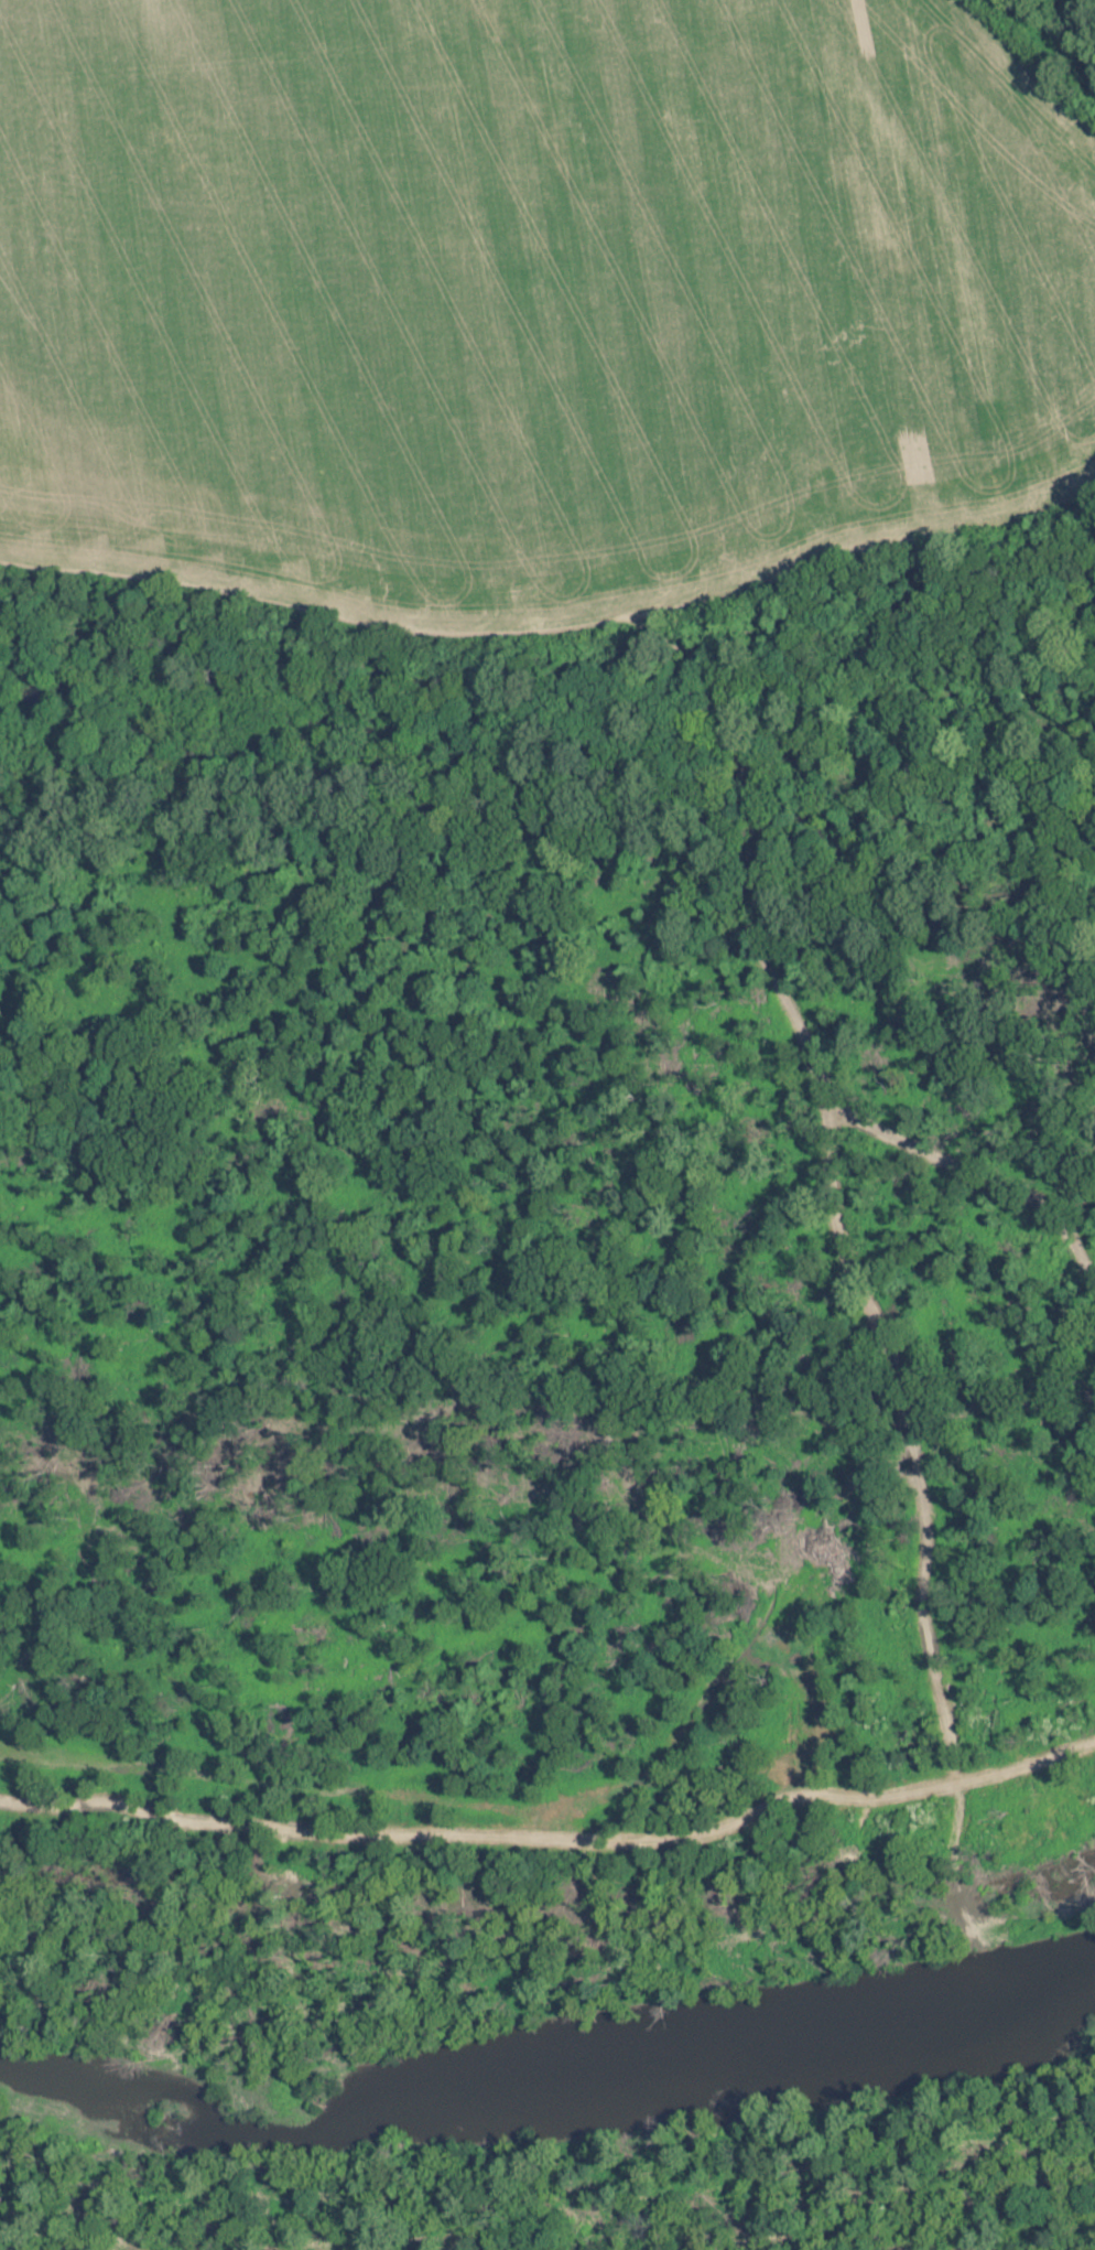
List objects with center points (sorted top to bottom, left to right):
road: (559, 611)
road: (846, 1235)

